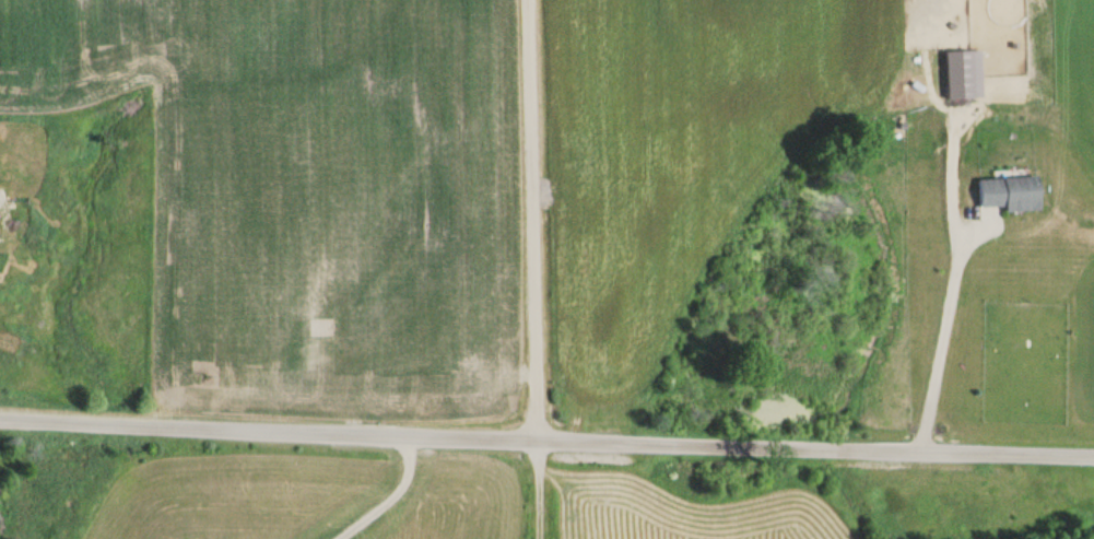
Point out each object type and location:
building: (1011, 194)
road: (529, 269)
road: (546, 444)

